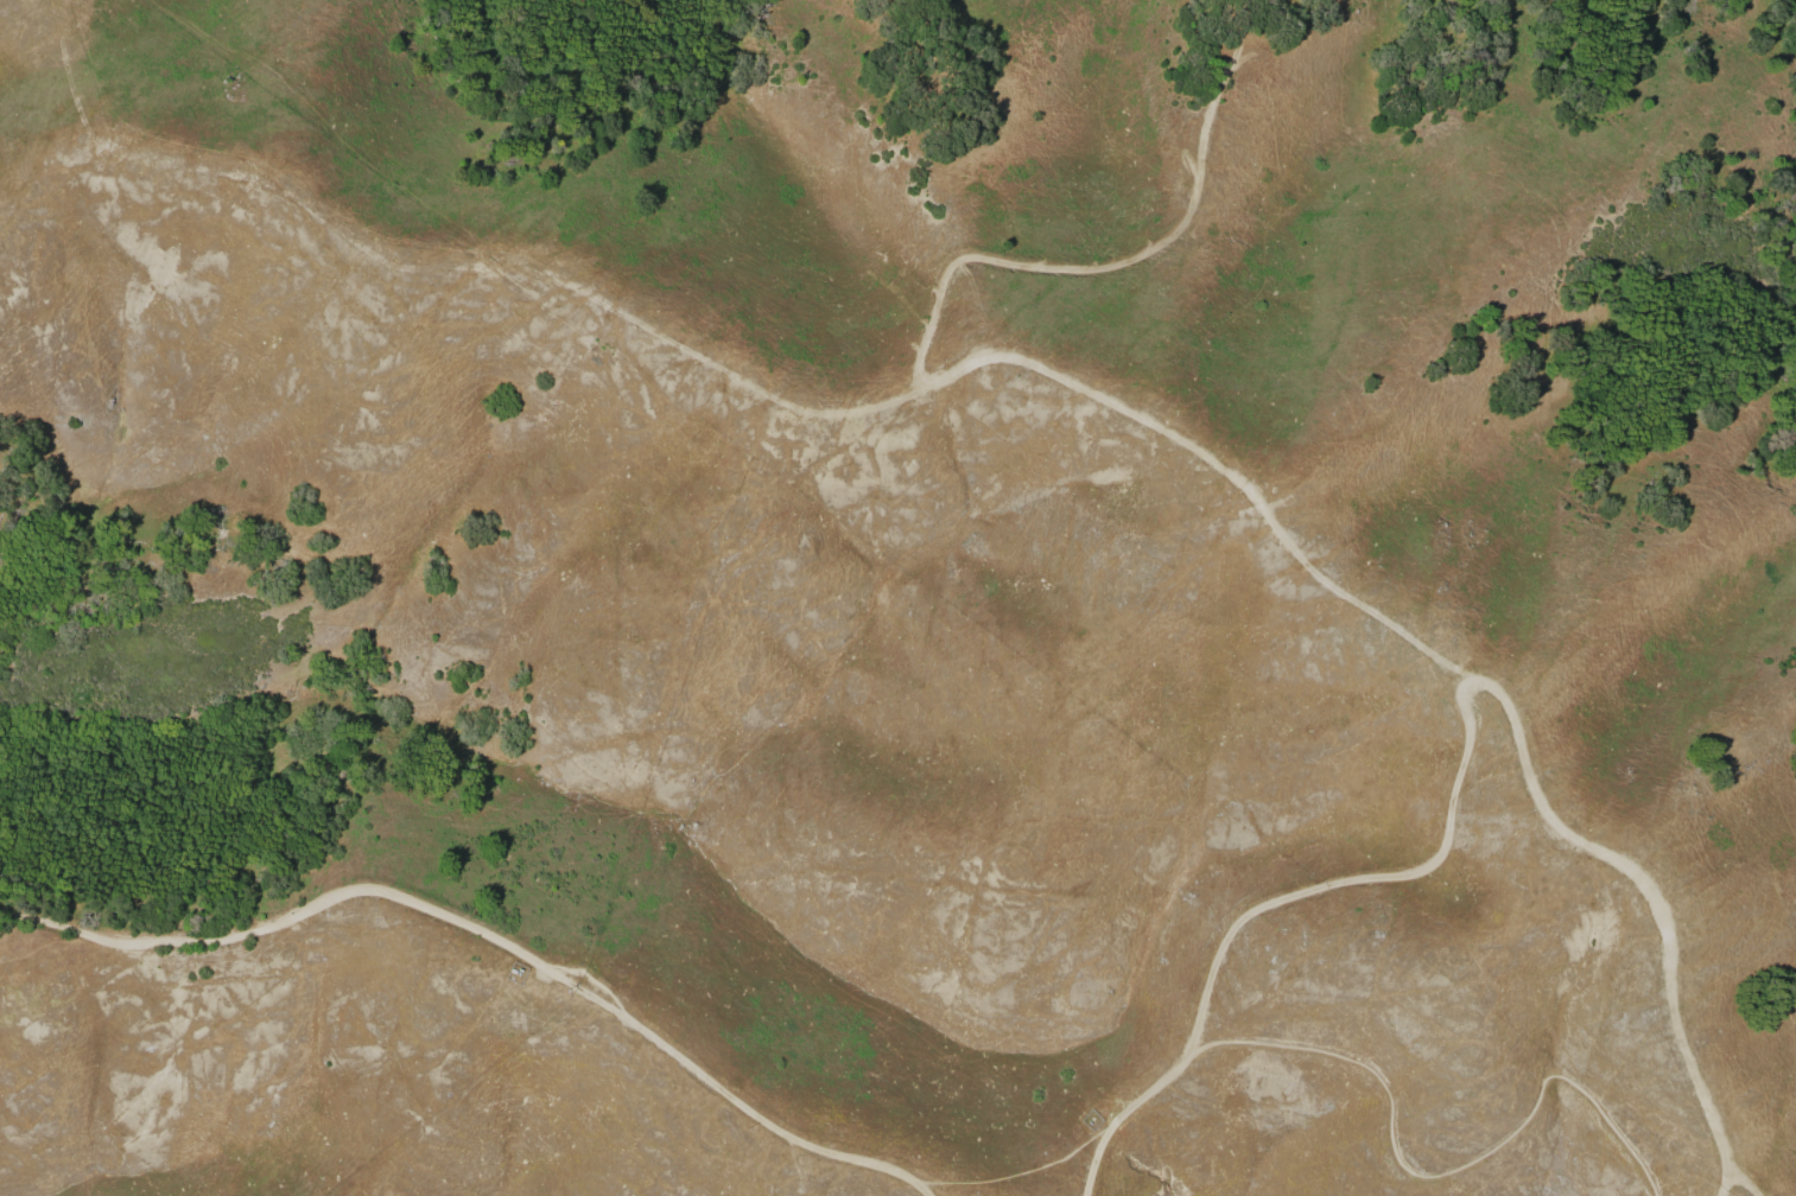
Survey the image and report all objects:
road: (945, 386)
road: (1498, 695)
road: (493, 941)
road: (1127, 1112)
road: (1435, 1172)
road: (1727, 1185)
road: (1743, 1185)

